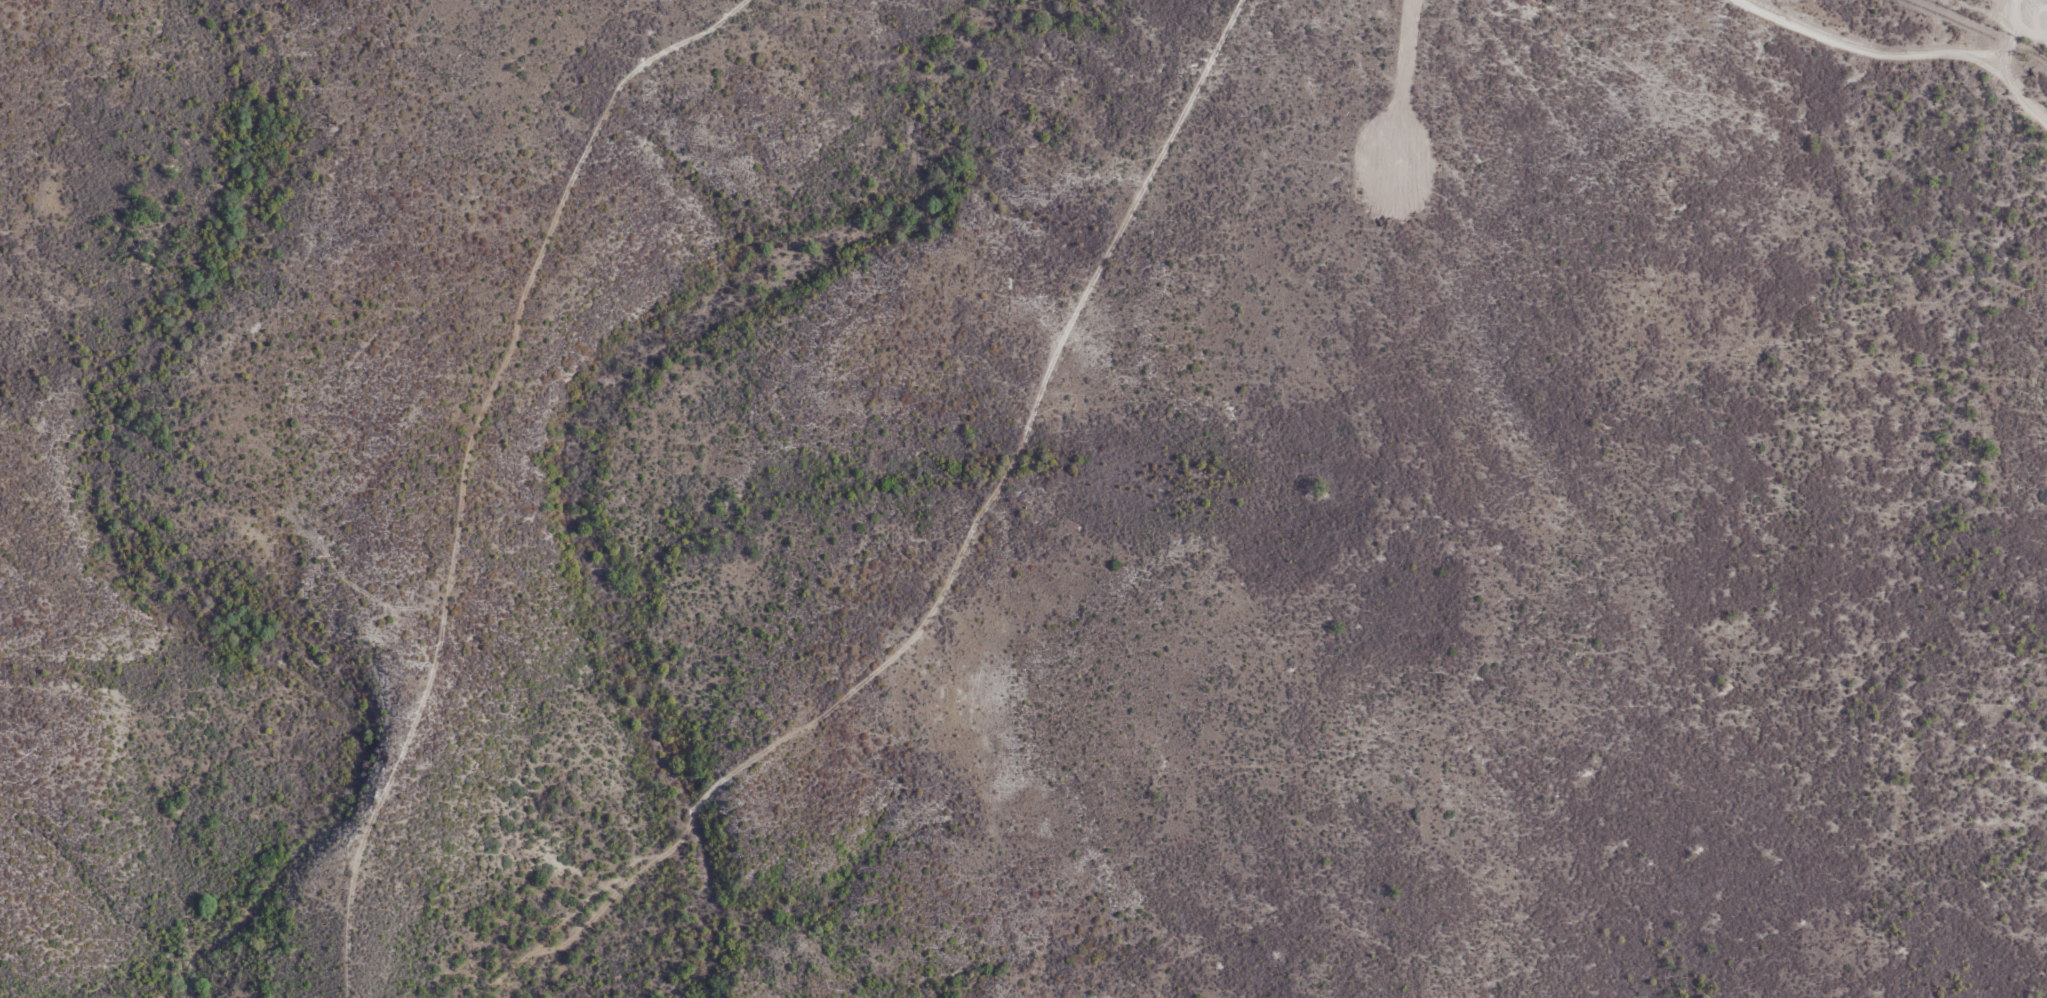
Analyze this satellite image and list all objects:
road: (2014, 65)

